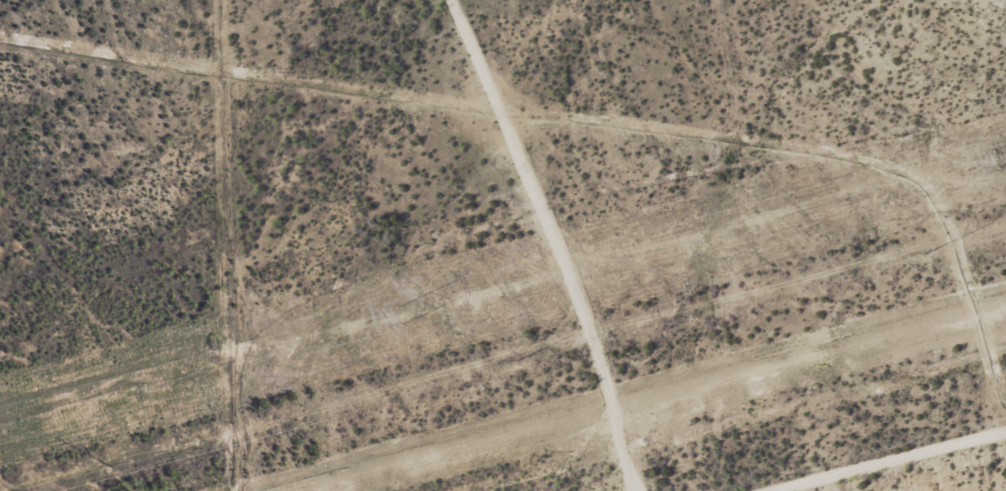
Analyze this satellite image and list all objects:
power tower: (999, 161)
road: (574, 237)
power tower: (924, 252)
power tower: (405, 319)
power tower: (521, 361)
power tower: (113, 469)

